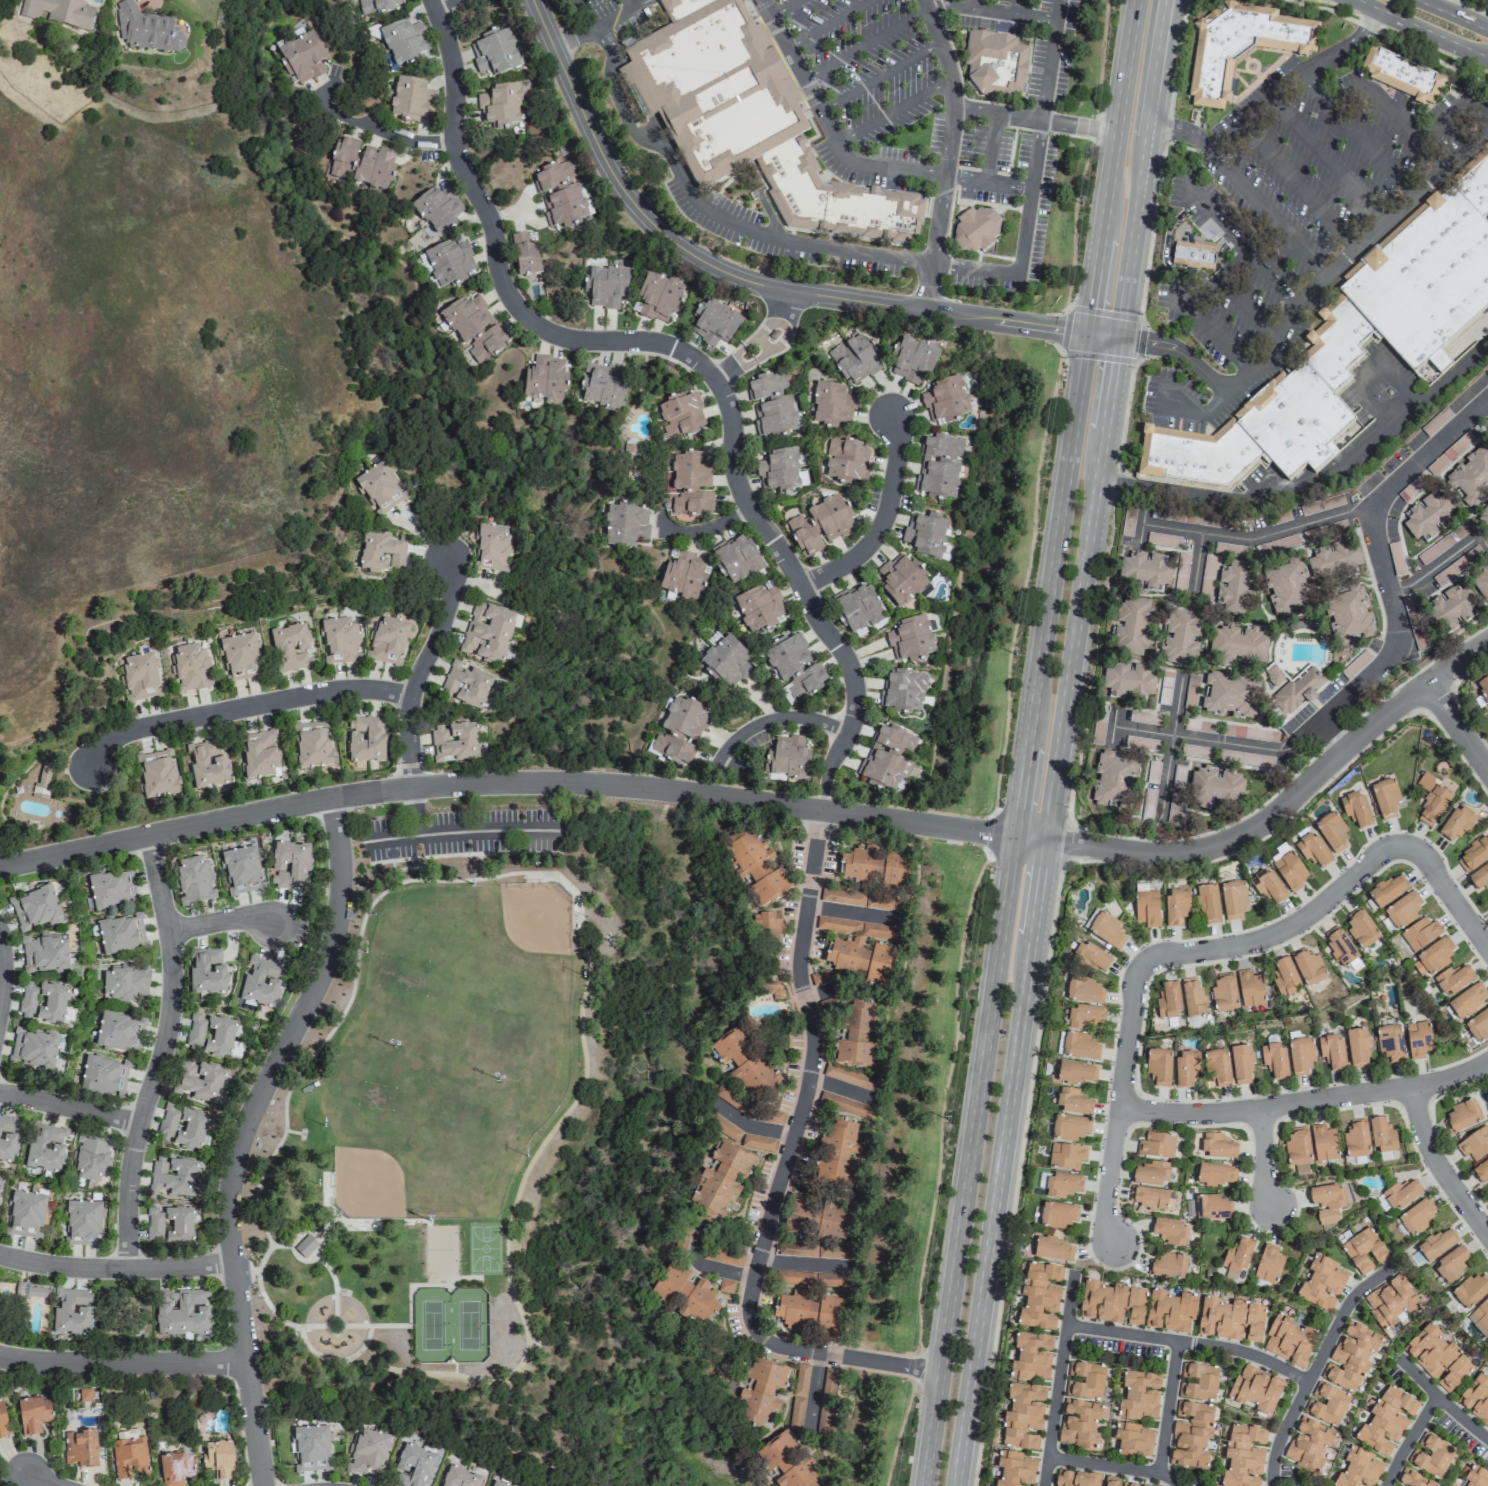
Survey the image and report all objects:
building: (1482, 0)
road: (629, 3)
road: (449, 5)
road: (975, 5)
building: (376, 6)
road: (784, 7)
road: (1015, 7)
road: (1470, 8)
building: (59, 12)
road: (991, 12)
road: (1452, 15)
road: (826, 22)
road: (593, 26)
road: (1423, 30)
building: (146, 31)
road: (1388, 38)
building: (404, 42)
road: (865, 43)
building: (1240, 46)
building: (496, 51)
building: (303, 56)
building: (995, 64)
building: (1401, 75)
road: (880, 76)
road: (1295, 78)
building: (411, 98)
building: (500, 105)
road: (894, 111)
road: (1471, 114)
road: (1390, 117)
road: (1041, 119)
building: (749, 121)
road: (1434, 126)
road: (1175, 127)
road: (382, 133)
road: (1358, 135)
road: (1039, 138)
road: (992, 148)
road: (948, 153)
road: (851, 158)
road: (1327, 160)
building: (361, 163)
road: (1298, 188)
building: (437, 212)
road: (708, 212)
road: (1268, 214)
building: (975, 231)
road: (1244, 246)
building: (524, 255)
building: (1195, 257)
building: (449, 261)
road: (1337, 269)
road: (974, 270)
road: (1217, 278)
road: (743, 280)
building: (1423, 280)
building: (605, 286)
building: (658, 297)
road: (1246, 314)
building: (714, 323)
building: (474, 328)
road: (778, 328)
traffic signals: (1102, 333)
road: (1214, 334)
road: (1171, 349)
road: (678, 351)
building: (853, 359)
building: (912, 359)
road: (734, 368)
building: (544, 378)
road: (1399, 381)
building: (601, 385)
building: (944, 399)
building: (772, 403)
building: (831, 405)
road: (1182, 406)
building: (681, 417)
road: (1089, 419)
building: (1296, 423)
building: (846, 462)
building: (940, 466)
building: (778, 471)
building: (1470, 477)
building: (690, 484)
road: (1308, 485)
building: (380, 486)
building: (1485, 514)
building: (1428, 515)
road: (1335, 518)
road: (884, 523)
building: (626, 526)
road: (716, 527)
road: (1144, 529)
building: (926, 534)
building: (493, 548)
building: (1229, 548)
building: (380, 551)
building: (736, 559)
building: (1333, 562)
road: (1438, 568)
road: (1199, 570)
building: (1144, 571)
building: (683, 575)
building: (902, 580)
building: (1481, 583)
building: (1287, 586)
building: (1233, 587)
building: (758, 608)
building: (857, 609)
building: (1449, 610)
building: (1348, 614)
building: (1132, 626)
building: (489, 633)
building: (1180, 637)
building: (339, 640)
building: (388, 641)
building: (1237, 643)
building: (290, 647)
building: (238, 656)
building: (725, 663)
building: (794, 667)
building: (190, 668)
road: (422, 672)
building: (1272, 674)
building: (140, 677)
building: (1128, 681)
building: (466, 685)
building: (1483, 688)
building: (904, 690)
building: (1297, 691)
building: (1230, 694)
road: (245, 709)
road: (1334, 712)
road: (778, 720)
road: (1115, 728)
road: (1458, 730)
building: (679, 732)
building: (365, 739)
road: (1333, 739)
building: (454, 742)
building: (311, 744)
road: (1172, 751)
building: (260, 753)
building: (1231, 756)
building: (787, 758)
building: (887, 758)
building: (207, 764)
building: (156, 774)
building: (42, 779)
building: (1115, 782)
building: (1215, 788)
road: (409, 790)
road: (826, 798)
building: (1384, 798)
building: (1431, 800)
building: (1355, 809)
building: (1456, 824)
road: (459, 831)
building: (1331, 832)
building: (1313, 850)
road: (1189, 855)
building: (1473, 855)
building: (288, 863)
building: (755, 867)
building: (874, 868)
building: (1289, 870)
building: (241, 871)
building: (1479, 877)
building: (194, 880)
building: (1269, 886)
building: (109, 888)
building: (1387, 890)
road: (1449, 896)
building: (1233, 899)
building: (861, 900)
building: (1487, 900)
building: (1207, 903)
building: (1175, 906)
building: (34, 908)
building: (1146, 908)
road: (848, 910)
building: (1402, 911)
road: (224, 921)
building: (837, 924)
building: (766, 927)
building: (1361, 929)
building: (1106, 930)
building: (880, 931)
road: (1287, 931)
building: (1419, 933)
building: (1340, 948)
building: (44, 953)
building: (1089, 957)
building: (1432, 958)
building: (861, 960)
building: (1309, 968)
building: (206, 972)
building: (1285, 978)
building: (1452, 979)
building: (260, 981)
building: (124, 982)
road: (2, 987)
building: (771, 989)
building: (1249, 989)
building: (1084, 990)
building: (1224, 993)
building: (1192, 996)
building: (1168, 1001)
building: (1466, 1001)
building: (829, 1003)
building: (1084, 1017)
building: (1478, 1026)
building: (119, 1030)
building: (195, 1031)
building: (856, 1033)
building: (1418, 1039)
building: (1390, 1043)
building: (1080, 1046)
building: (1357, 1048)
building: (33, 1049)
building: (1331, 1050)
road: (164, 1053)
building: (1300, 1055)
building: (1273, 1059)
building: (1241, 1064)
building: (1158, 1065)
building: (1217, 1066)
building: (1185, 1067)
building: (1076, 1073)
building: (103, 1075)
building: (746, 1075)
building: (849, 1078)
building: (198, 1080)
road: (840, 1087)
road: (976, 1101)
building: (1073, 1101)
park: (429, 1103)
road: (1120, 1104)
road: (1306, 1104)
building: (845, 1105)
road: (71, 1108)
building: (1461, 1116)
building: (183, 1126)
building: (722, 1126)
road: (751, 1127)
building: (1069, 1127)
road: (246, 1134)
building: (1381, 1135)
building: (7, 1137)
building: (1356, 1139)
building: (757, 1143)
building: (1323, 1143)
building: (1474, 1144)
building: (1156, 1145)
building: (1216, 1146)
building: (45, 1147)
building: (1297, 1150)
building: (836, 1155)
building: (1066, 1156)
building: (92, 1157)
road: (1262, 1159)
road: (997, 1160)
road: (779, 1163)
road: (1440, 1167)
building: (1481, 1172)
building: (1151, 1173)
building: (1215, 1174)
building: (172, 1177)
building: (720, 1182)
building: (1062, 1185)
building: (1400, 1194)
building: (1152, 1199)
building: (1326, 1202)
building: (1212, 1207)
building: (25, 1212)
building: (1057, 1214)
building: (802, 1215)
building: (1416, 1216)
building: (84, 1221)
building: (181, 1225)
building: (1170, 1231)
building: (824, 1238)
building: (681, 1241)
building: (1436, 1243)
building: (305, 1245)
building: (1053, 1249)
building: (1363, 1250)
building: (722, 1255)
building: (1237, 1258)
road: (790, 1262)
building: (1268, 1264)
building: (1451, 1264)
road: (711, 1266)
building: (1168, 1266)
road: (117, 1269)
building: (794, 1278)
building: (832, 1279)
building: (1322, 1283)
building: (671, 1286)
building: (725, 1286)
building: (1470, 1290)
building: (36, 1291)
building: (1039, 1296)
building: (1390, 1301)
building: (699, 1302)
building: (1111, 1302)
building: (796, 1311)
building: (1169, 1311)
building: (181, 1312)
building: (69, 1313)
building: (828, 1314)
building: (1480, 1318)
building: (1230, 1319)
building: (1288, 1340)
road: (1192, 1345)
building: (1031, 1355)
building: (1352, 1356)
building: (1437, 1357)
road: (124, 1363)
road: (1319, 1366)
road: (1061, 1379)
building: (1087, 1381)
building: (1200, 1382)
road: (811, 1387)
building: (1255, 1389)
building: (761, 1391)
building: (798, 1395)
building: (1139, 1395)
building: (826, 1401)
road: (1442, 1401)
building: (1327, 1405)
road: (1170, 1410)
building: (32, 1414)
building: (1022, 1415)
building: (1386, 1421)
building: (2, 1422)
building: (1080, 1424)
road: (931, 1429)
building: (1191, 1434)
building: (1133, 1439)
road: (1412, 1441)
building: (1308, 1444)
building: (311, 1448)
building: (81, 1449)
building: (367, 1452)
building: (1243, 1456)
building: (128, 1457)
building: (1432, 1457)
building: (217, 1458)
building: (787, 1461)
building: (414, 1465)
building: (175, 1468)
building: (1015, 1469)
road: (1114, 1469)
building: (1358, 1469)
building: (459, 1477)
building: (1475, 1477)
building: (1083, 1479)
building: (1411, 1479)
road: (40, 1481)
building: (498, 1484)
building: (1133, 1484)

